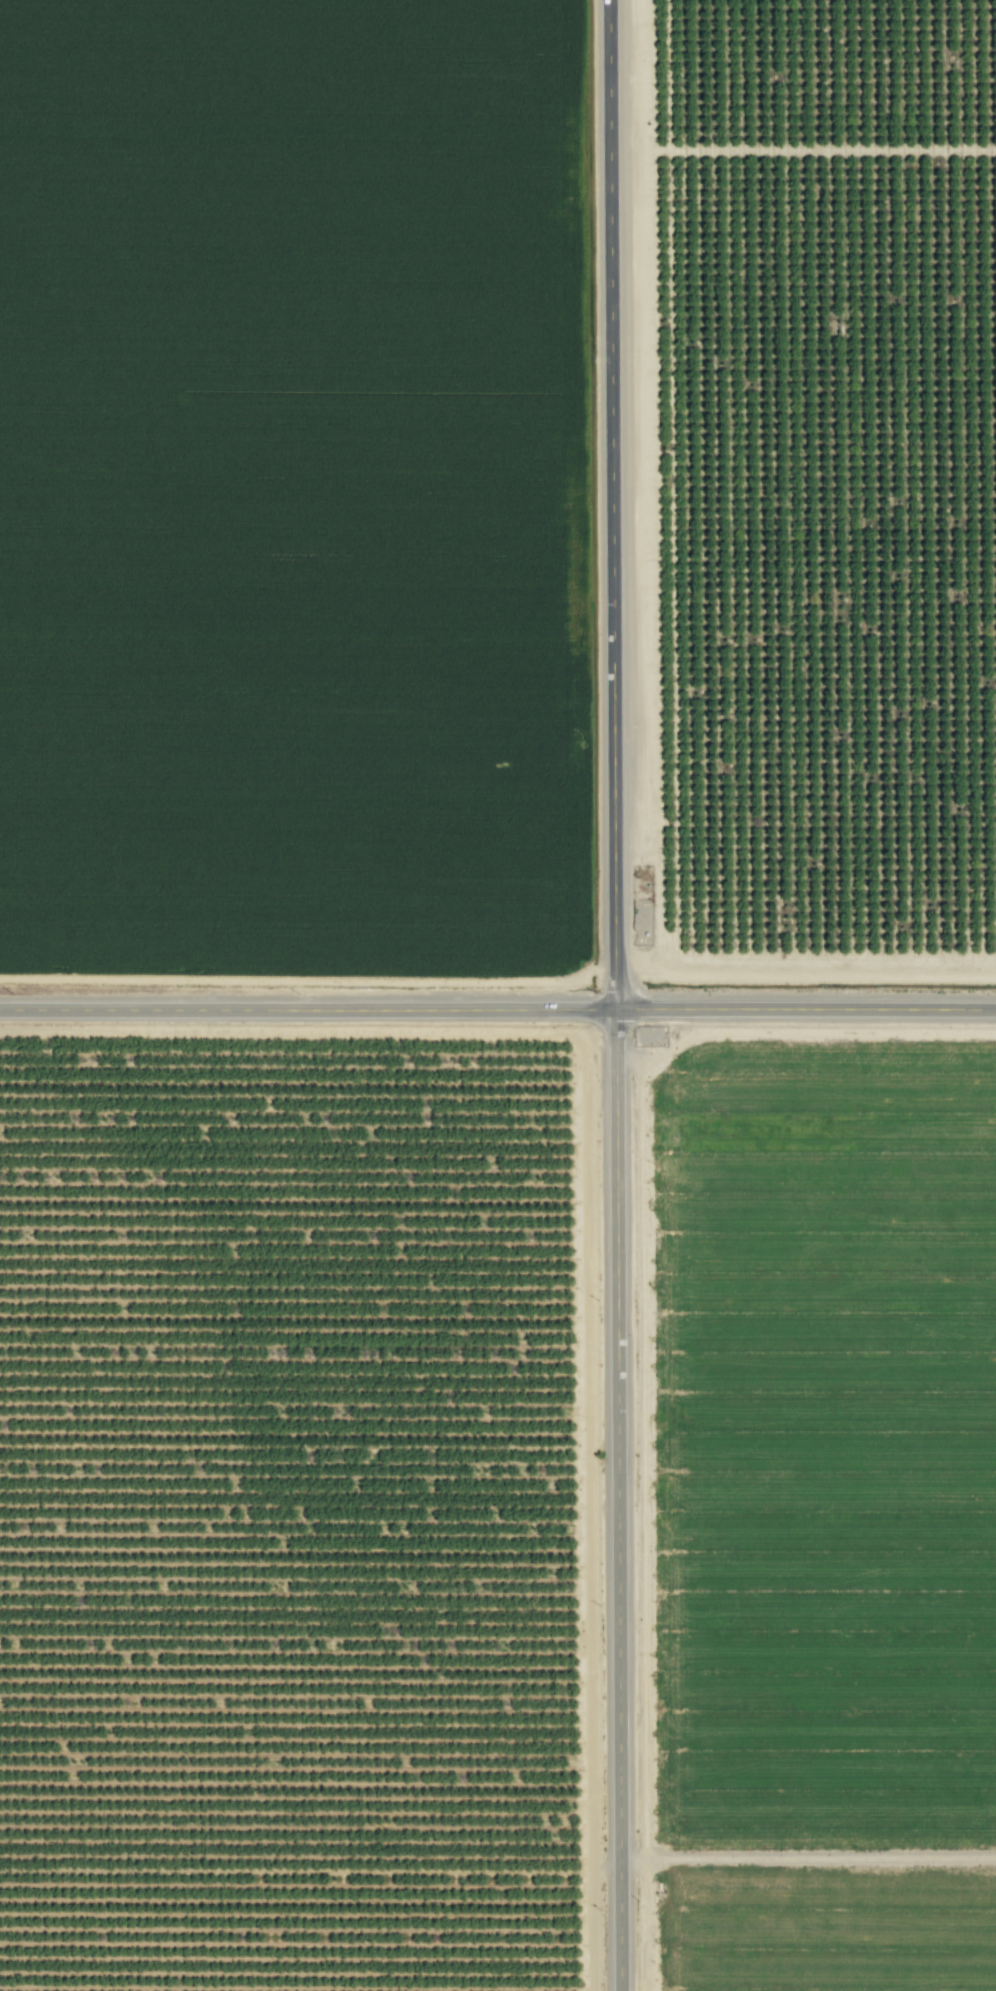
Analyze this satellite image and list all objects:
road: (623, 995)
road: (498, 1010)

